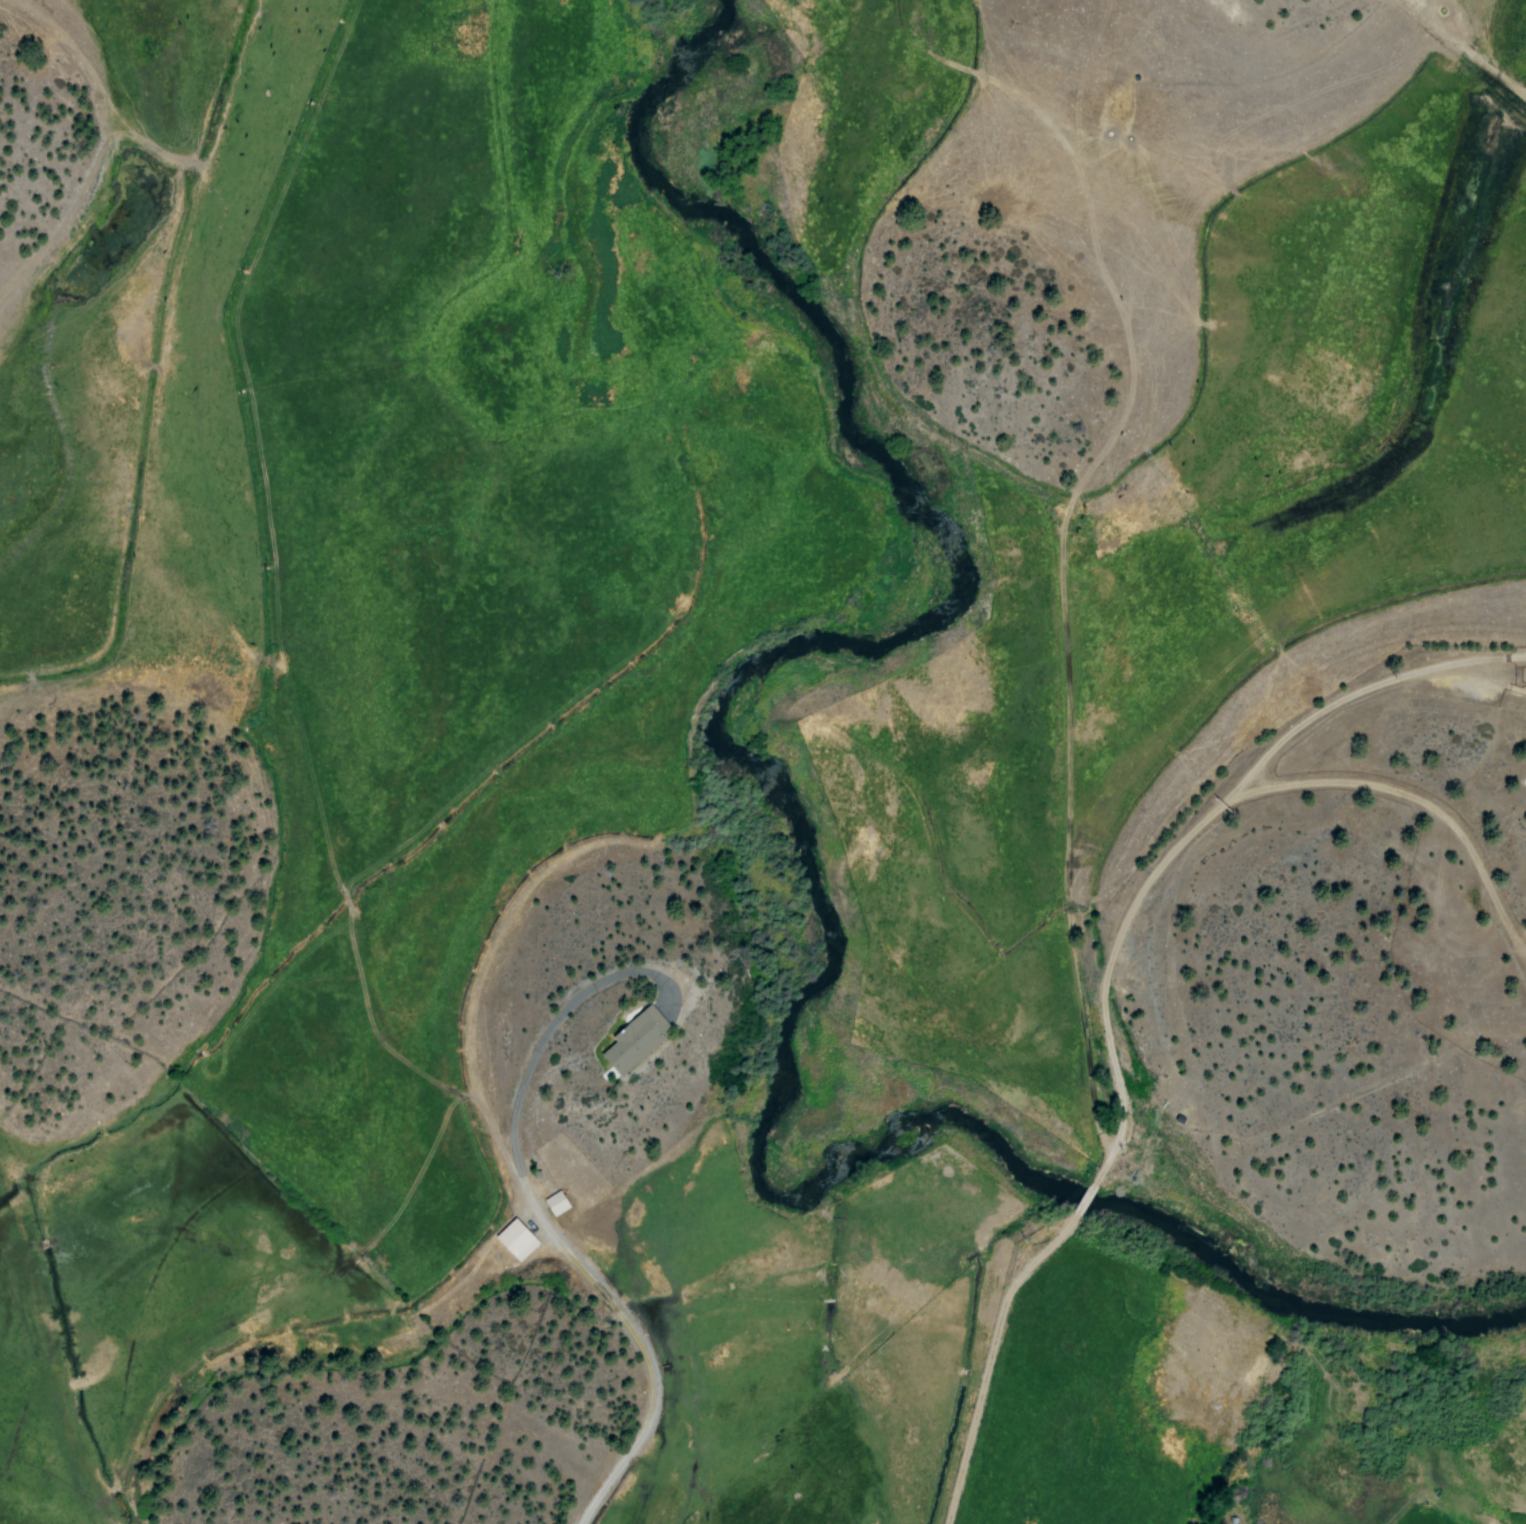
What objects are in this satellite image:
river: (798, 860)
road: (1091, 989)
building: (632, 1041)
building: (555, 1203)
building: (515, 1240)

